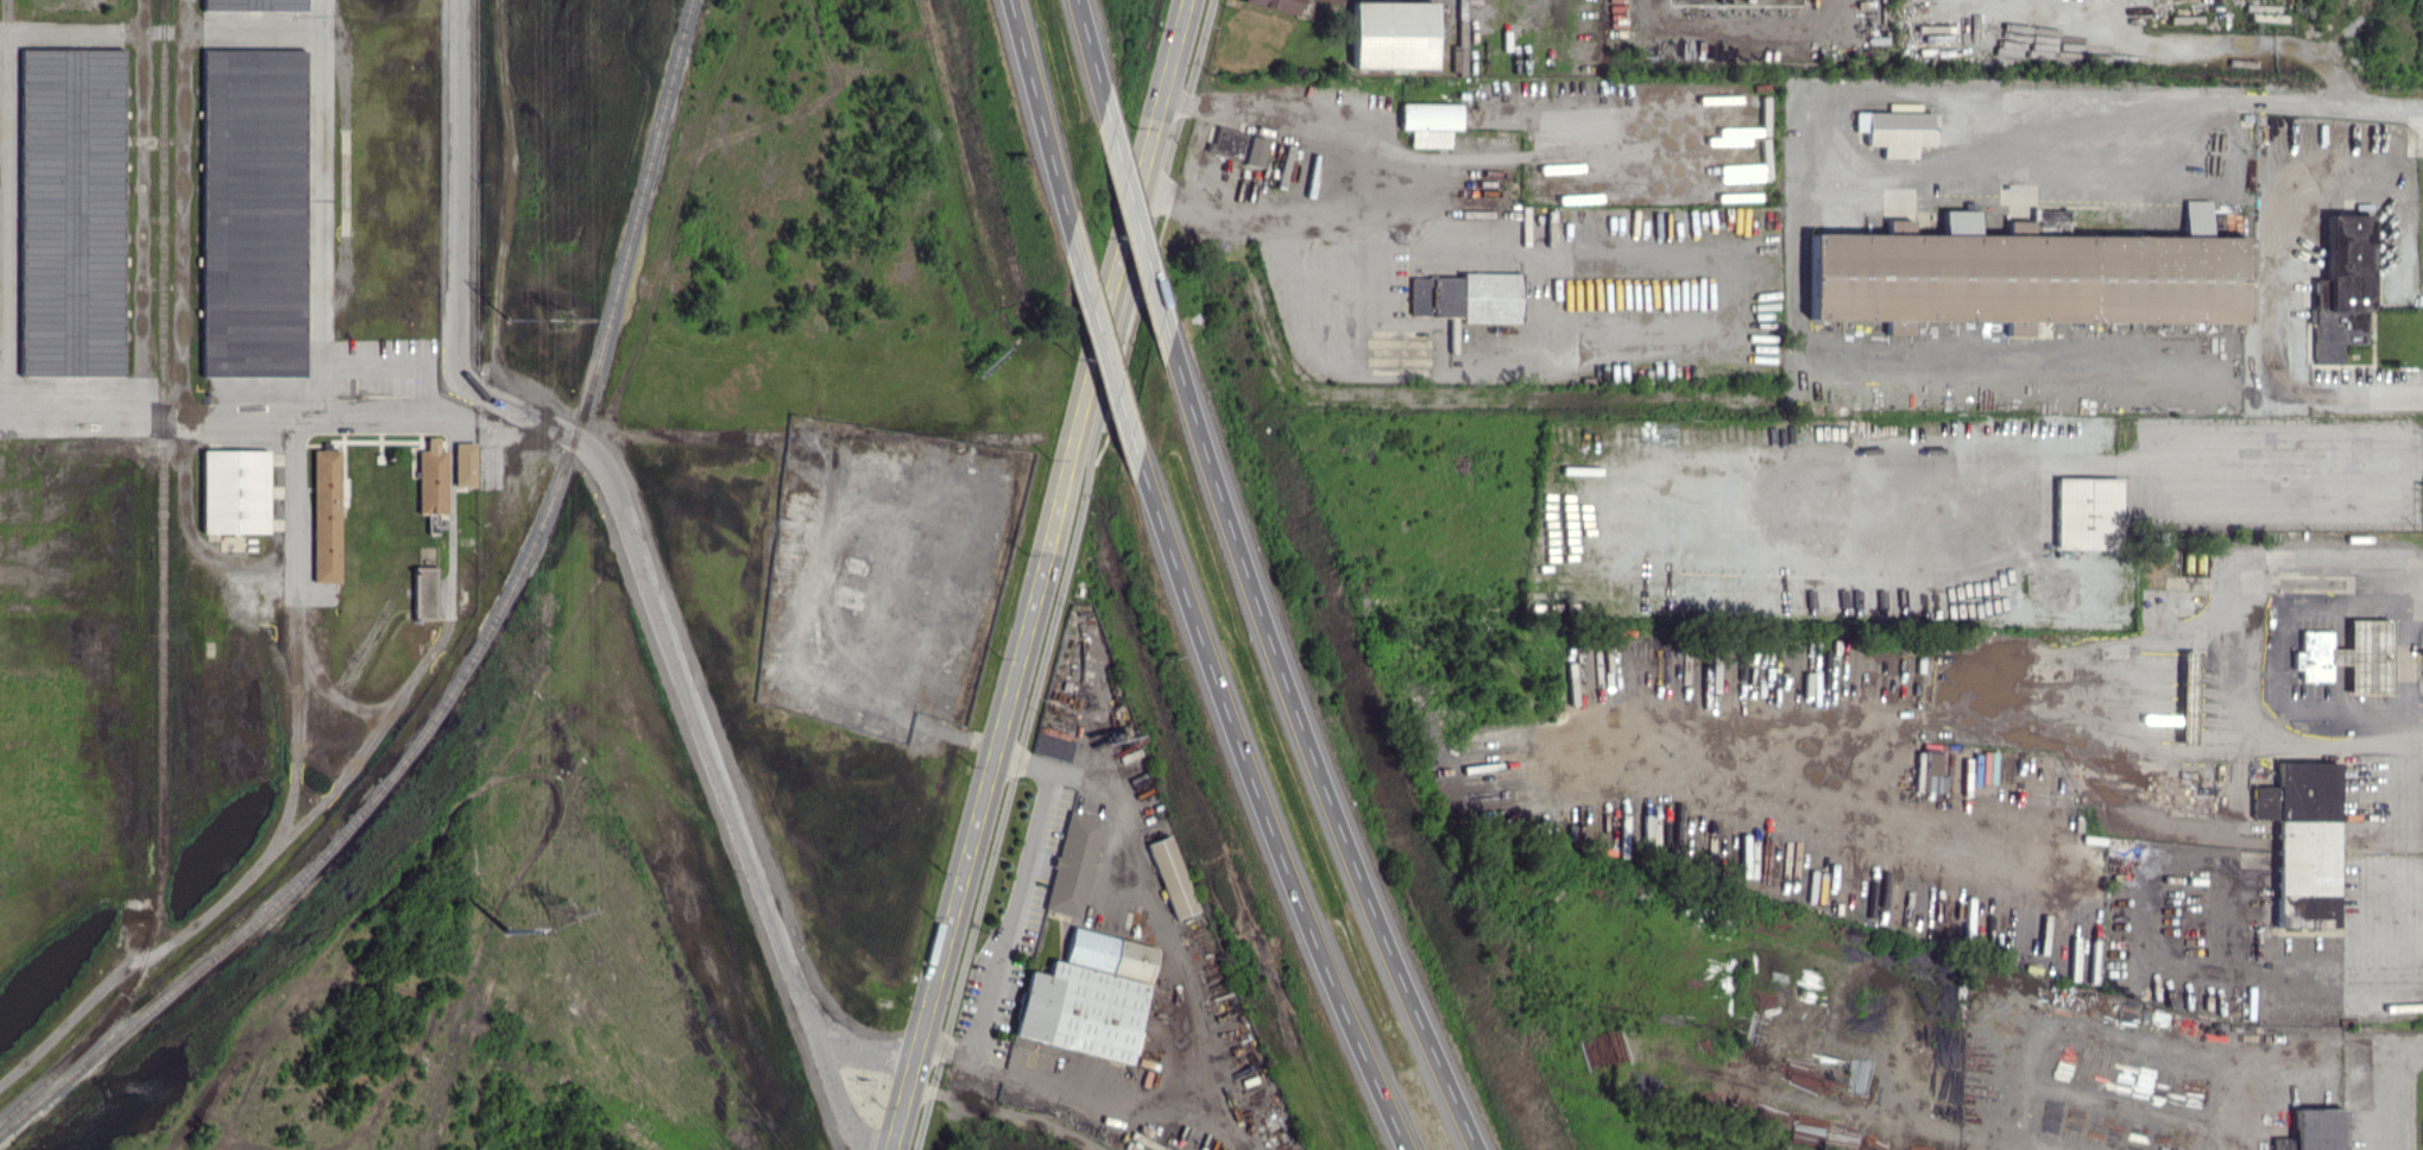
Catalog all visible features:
building: (1339, 0)
building: (257, 5)
building: (1280, 5)
road: (1736, 24)
building: (1395, 34)
road: (2216, 43)
road: (1087, 50)
road: (2246, 99)
road: (1037, 115)
building: (1433, 122)
building: (1897, 131)
road: (1361, 138)
building: (1239, 145)
building: (74, 211)
building: (257, 211)
road: (1263, 214)
road: (1134, 220)
road: (2384, 241)
building: (2028, 273)
building: (2342, 290)
road: (2282, 291)
road: (324, 308)
power tower: (567, 317)
power tower: (513, 321)
road: (1102, 349)
road: (404, 359)
road: (269, 407)
building: (467, 463)
road: (2094, 467)
building: (435, 478)
building: (238, 491)
road: (296, 503)
building: (2087, 512)
building: (329, 514)
road: (639, 550)
road: (1047, 574)
road: (1064, 574)
building: (428, 593)
railway: (166, 594)
railway: (480, 651)
road: (2230, 652)
building: (2348, 656)
road: (2286, 659)
building: (1052, 747)
road: (1310, 750)
building: (1933, 779)
road: (1263, 811)
building: (2302, 841)
building: (1072, 864)
building: (1173, 877)
road: (1012, 908)
power tower: (566, 910)
power tower: (511, 931)
road: (2383, 936)
building: (1089, 997)
road: (1195, 1016)
road: (966, 1076)
road: (2392, 1088)
road: (1008, 1112)
building: (2312, 1130)

